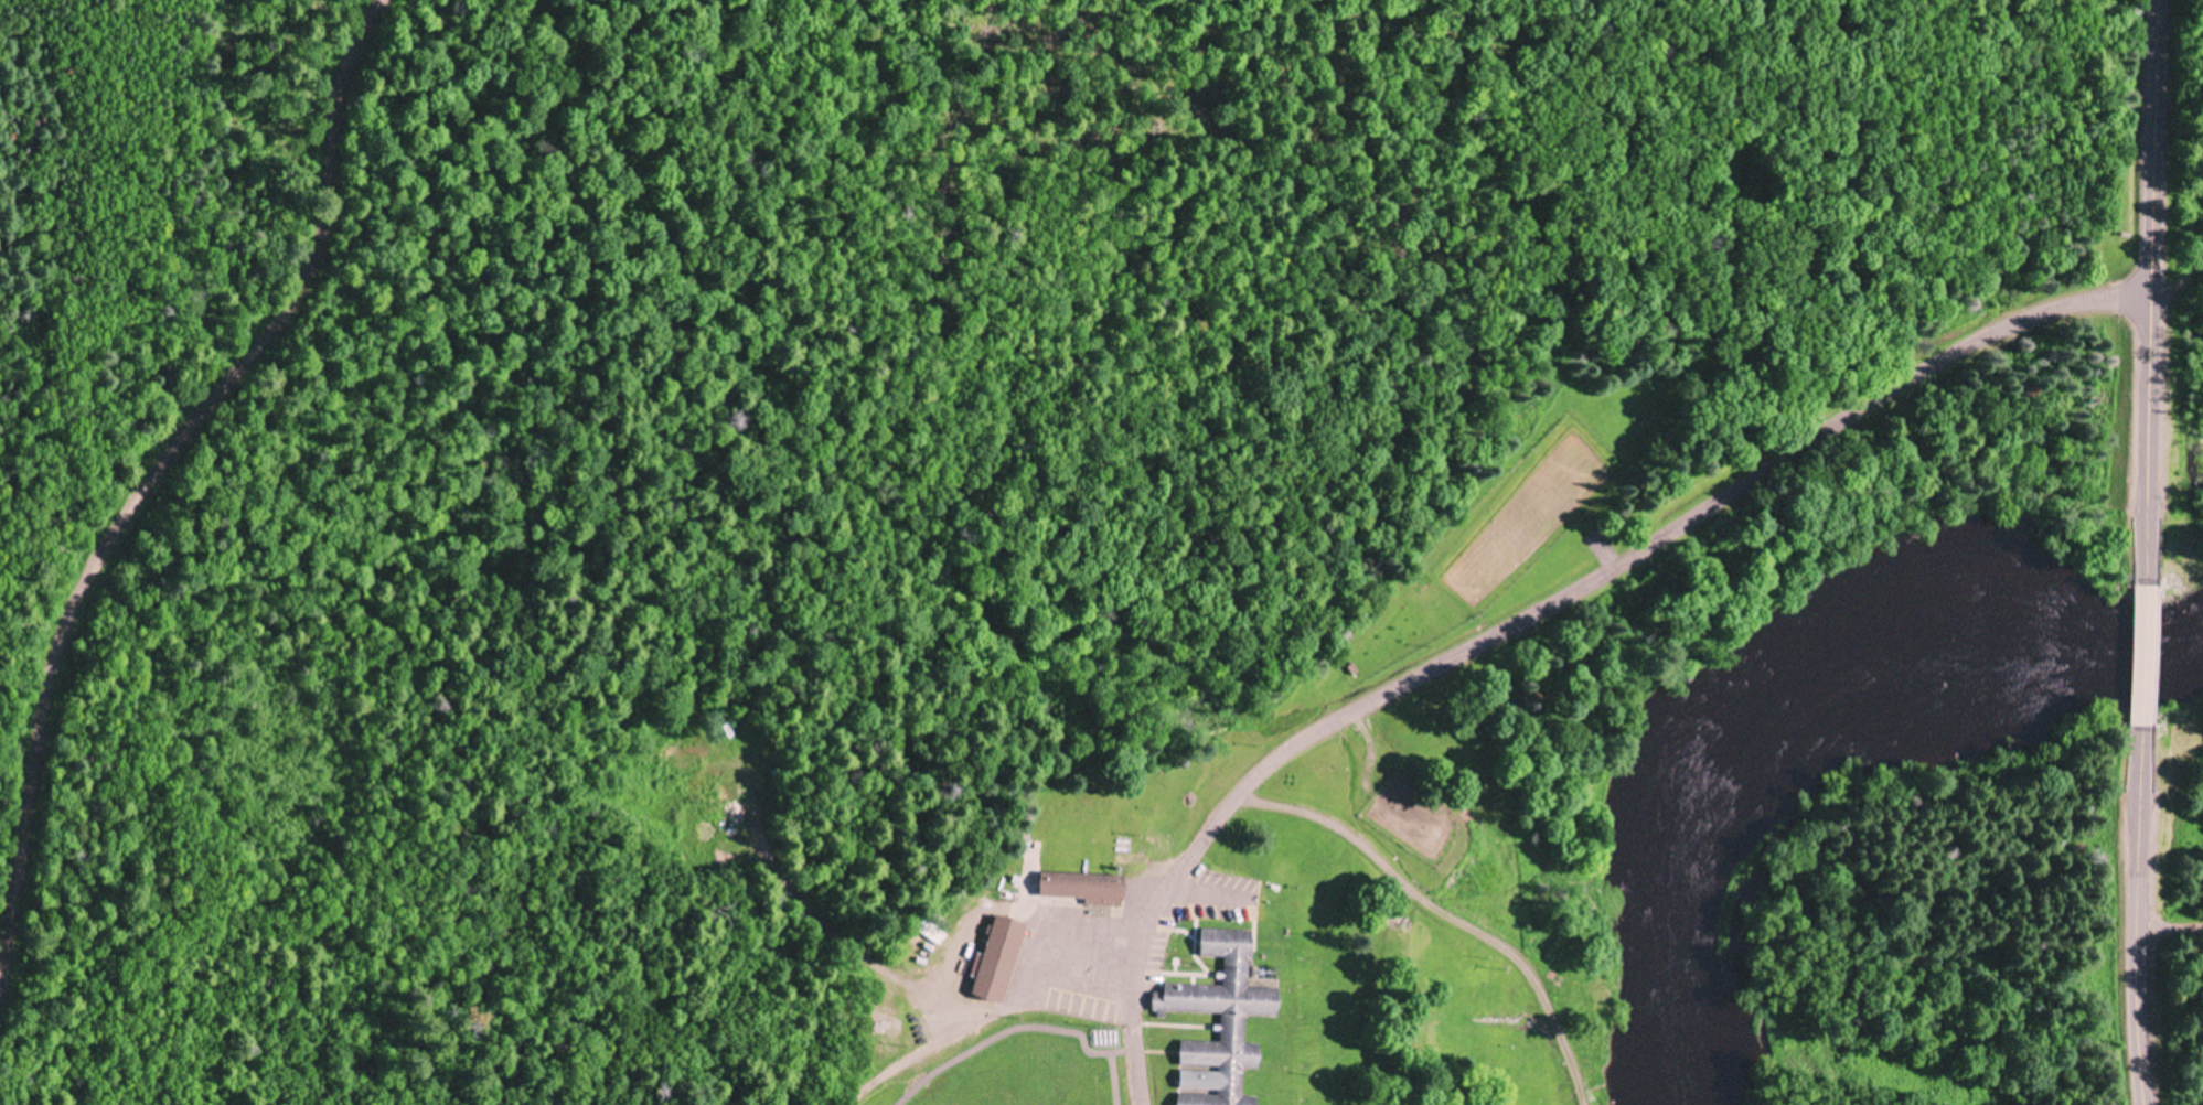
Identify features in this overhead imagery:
road: (2150, 275)
road: (159, 464)
road: (1472, 639)
road: (2141, 656)
river: (1783, 732)
building: (1081, 888)
road: (2140, 934)
building: (997, 959)
building: (1232, 1028)

